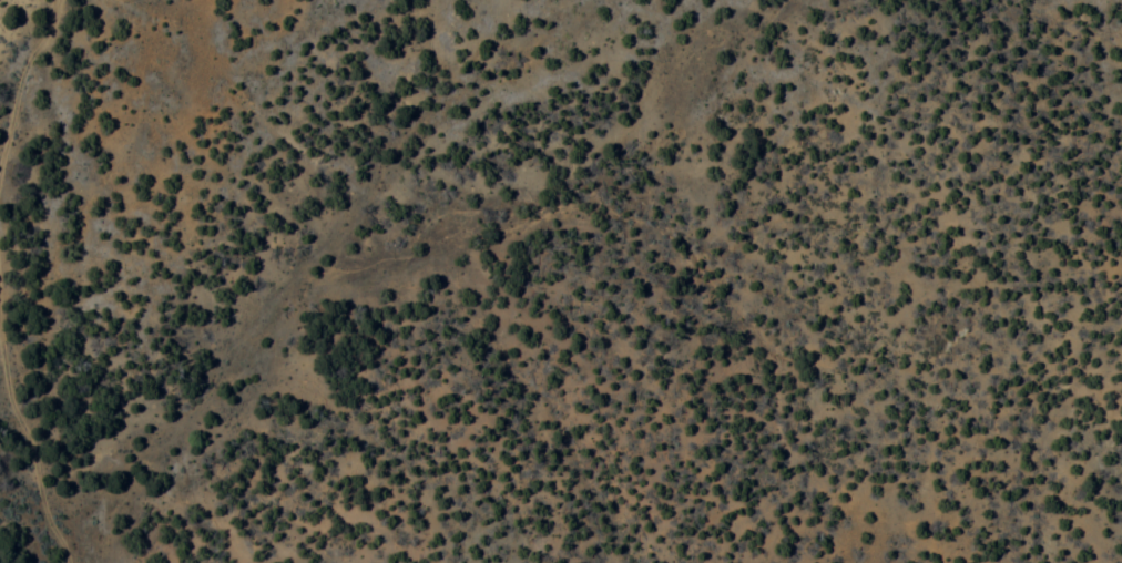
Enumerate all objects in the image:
road: (1096, 24)

